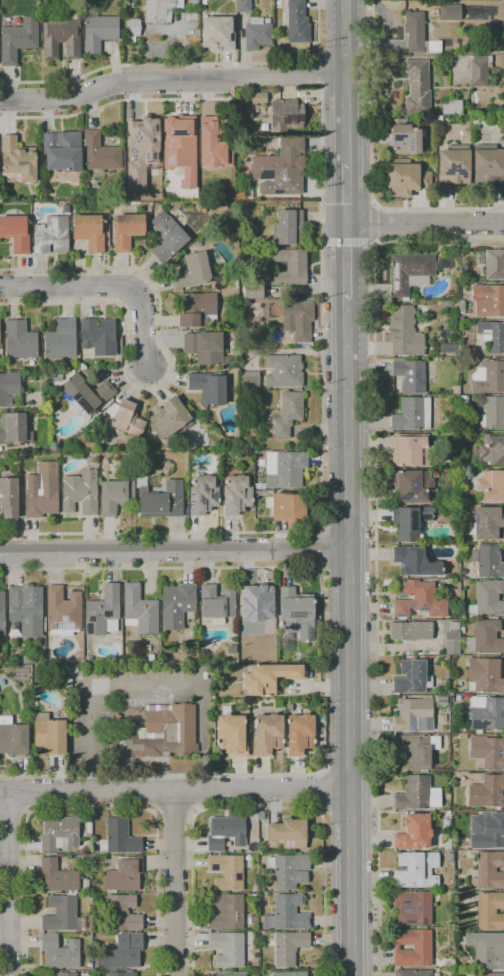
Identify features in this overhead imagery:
building: (244, 6)
building: (160, 10)
building: (435, 12)
building: (450, 12)
building: (193, 15)
building: (297, 22)
building: (98, 30)
building: (132, 30)
building: (218, 33)
building: (258, 33)
building: (418, 35)
building: (61, 39)
building: (18, 40)
road: (187, 64)
building: (479, 69)
road: (318, 71)
road: (171, 81)
road: (346, 81)
building: (417, 87)
building: (258, 96)
road: (115, 103)
building: (451, 107)
building: (286, 116)
building: (438, 119)
building: (474, 120)
rooftop solar panel: (177, 132)
rooftop solar panel: (397, 137)
building: (403, 137)
building: (210, 143)
building: (250, 145)
building: (180, 148)
building: (140, 149)
building: (62, 151)
building: (99, 152)
building: (17, 160)
building: (453, 166)
building: (488, 166)
building: (276, 167)
road: (371, 167)
rooftop solar panel: (450, 169)
building: (405, 178)
road: (346, 193)
building: (65, 208)
road: (324, 219)
road: (374, 223)
road: (424, 224)
building: (288, 227)
building: (127, 230)
building: (89, 231)
building: (15, 232)
building: (51, 235)
building: (167, 239)
road: (348, 241)
building: (198, 244)
road: (346, 260)
building: (492, 263)
building: (289, 268)
building: (192, 271)
building: (410, 273)
road: (105, 286)
building: (253, 290)
building: (488, 300)
building: (461, 307)
building: (198, 310)
building: (298, 321)
building: (404, 332)
building: (492, 335)
building: (98, 336)
building: (19, 340)
building: (60, 340)
building: (450, 347)
building: (205, 348)
building: (82, 367)
building: (284, 371)
road: (170, 374)
building: (410, 374)
building: (488, 377)
building: (250, 380)
building: (208, 387)
building: (9, 389)
building: (86, 394)
building: (288, 413)
building: (492, 413)
building: (412, 414)
building: (104, 417)
building: (169, 417)
building: (127, 419)
building: (14, 429)
building: (0, 449)
building: (411, 450)
building: (489, 451)
road: (322, 467)
building: (285, 469)
rooftop solar panel: (195, 485)
building: (259, 486)
building: (411, 486)
building: (492, 486)
rooftop solar panel: (202, 488)
building: (41, 491)
building: (80, 492)
rooftop solar panel: (192, 495)
building: (203, 495)
building: (236, 495)
rooftop solar panel: (405, 495)
building: (115, 496)
building: (9, 497)
rooftop solar panel: (213, 497)
building: (160, 499)
rooftop solar panel: (192, 500)
rooftop solar panel: (200, 500)
building: (287, 506)
rooftop solar panel: (425, 517)
rooftop solar panel: (413, 518)
building: (409, 522)
rooftop solar panel: (475, 523)
building: (489, 523)
road: (346, 533)
road: (375, 544)
road: (318, 549)
road: (174, 550)
rooftop solar panel: (398, 557)
building: (415, 561)
building: (487, 561)
road: (346, 567)
rooftop solar panel: (428, 572)
building: (487, 599)
building: (419, 600)
building: (217, 602)
building: (257, 603)
building: (177, 605)
rooftop solar panel: (410, 607)
building: (27, 609)
rooftop solar panel: (422, 609)
building: (140, 610)
building: (63, 612)
building: (103, 612)
building: (2, 614)
rooftop solar panel: (107, 614)
rooftop solar panel: (296, 614)
building: (297, 614)
rooftop solar panel: (399, 617)
rooftop solar panel: (91, 620)
building: (454, 626)
rooftop solar panel: (88, 629)
building: (14, 630)
building: (411, 631)
road: (349, 637)
building: (485, 638)
building: (452, 643)
building: (35, 655)
building: (89, 659)
building: (72, 670)
road: (324, 673)
building: (484, 675)
building: (270, 677)
building: (412, 677)
road: (145, 685)
building: (442, 700)
building: (413, 714)
building: (488, 715)
building: (320, 719)
rooftop solar panel: (477, 722)
building: (461, 729)
building: (299, 733)
building: (49, 734)
building: (161, 734)
building: (231, 734)
building: (322, 734)
building: (267, 735)
building: (462, 736)
building: (13, 737)
building: (416, 750)
building: (488, 752)
road: (350, 772)
road: (143, 792)
road: (322, 792)
building: (487, 792)
road: (175, 793)
road: (191, 794)
building: (417, 794)
road: (25, 795)
building: (447, 796)
road: (257, 808)
road: (348, 808)
road: (91, 809)
road: (174, 813)
road: (14, 814)
building: (260, 816)
building: (446, 822)
building: (487, 830)
building: (225, 832)
building: (413, 832)
building: (59, 833)
building: (288, 833)
building: (120, 838)
building: (449, 857)
building: (93, 862)
building: (288, 870)
building: (416, 870)
building: (489, 871)
building: (227, 872)
building: (124, 875)
building: (61, 877)
road: (8, 884)
road: (175, 884)
building: (255, 888)
building: (253, 895)
building: (413, 907)
building: (490, 910)
building: (226, 912)
building: (122, 913)
building: (287, 913)
building: (62, 914)
building: (289, 947)
building: (412, 948)
building: (227, 949)
building: (487, 950)
building: (59, 952)
building: (121, 952)
building: (413, 973)
building: (66, 974)
building: (122, 974)
building: (228, 974)
building: (289, 974)
building: (488, 974)

